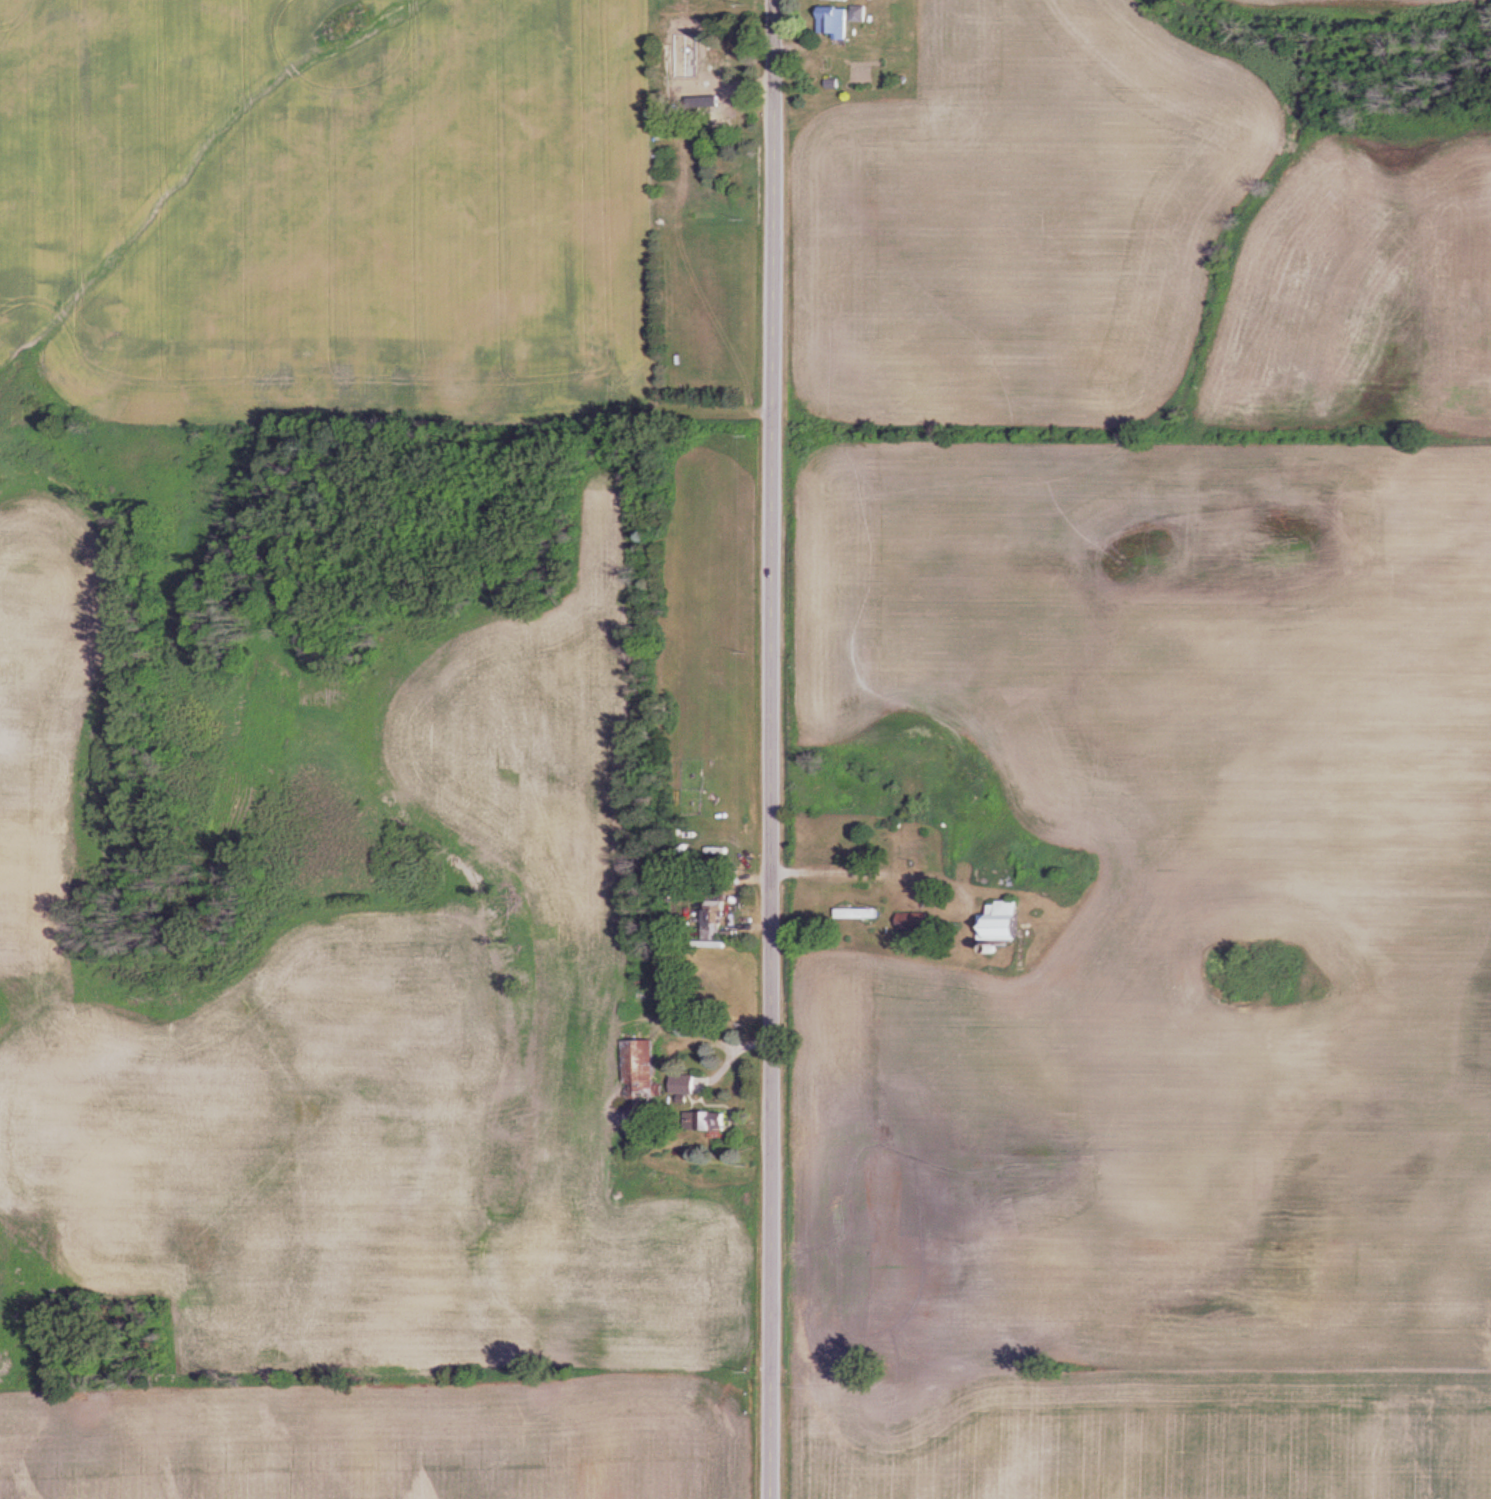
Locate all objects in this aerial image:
building: (840, 18)
building: (686, 63)
road: (767, 749)
road: (885, 873)
building: (855, 913)
building: (713, 920)
building: (911, 920)
building: (1001, 921)
building: (638, 1068)
building: (684, 1084)
building: (711, 1121)

